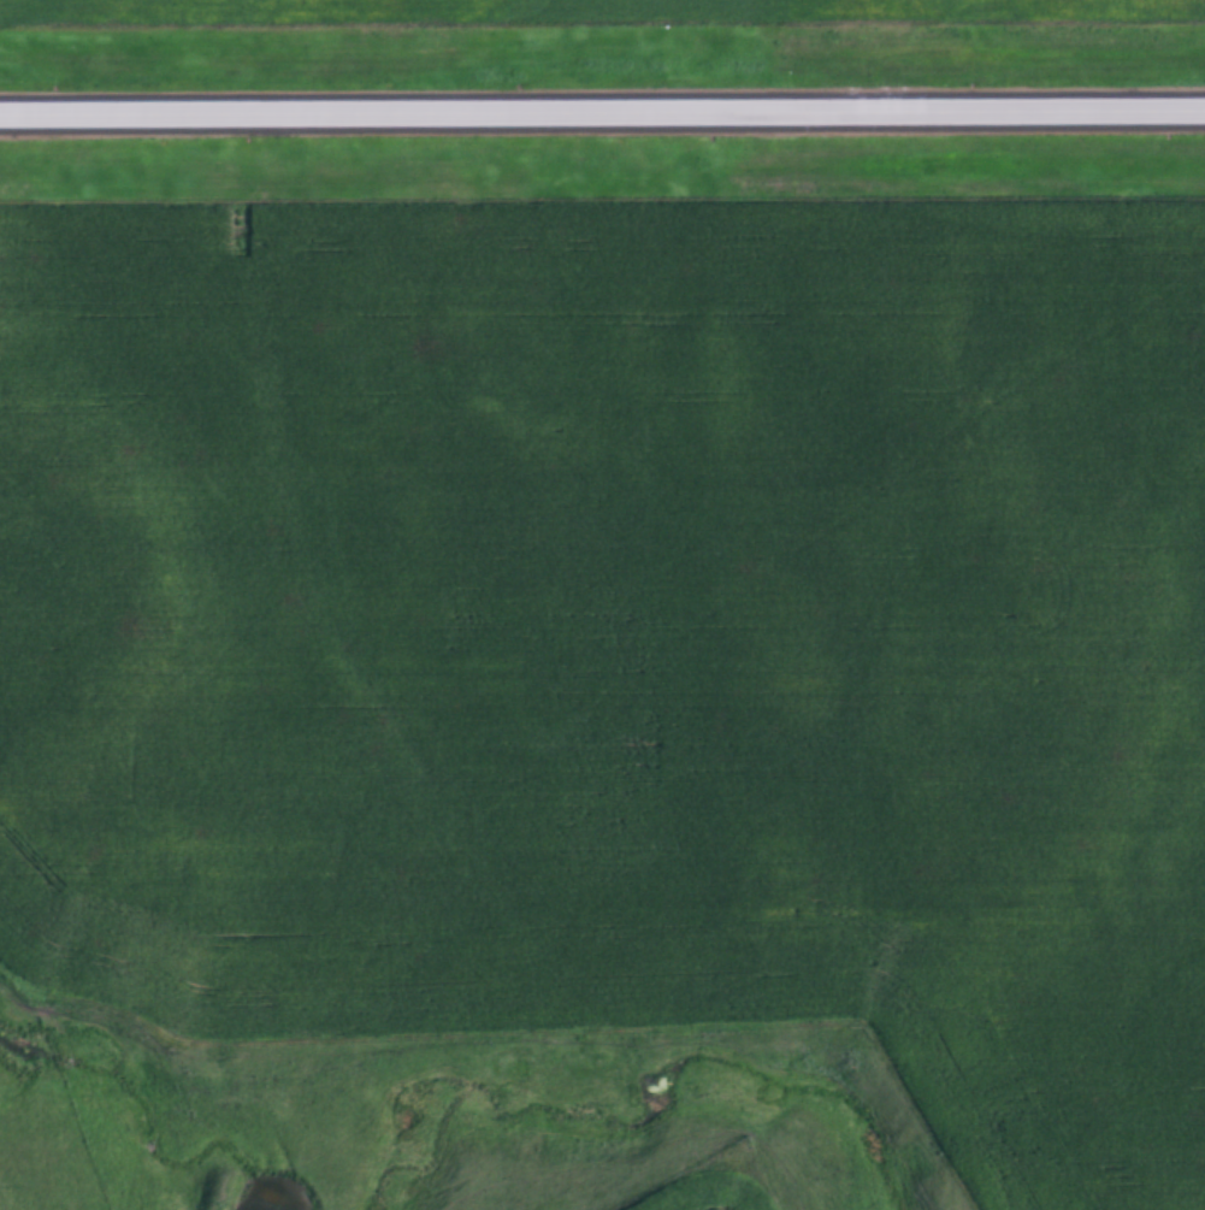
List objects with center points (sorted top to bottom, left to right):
road: (602, 111)
river: (271, 1209)

